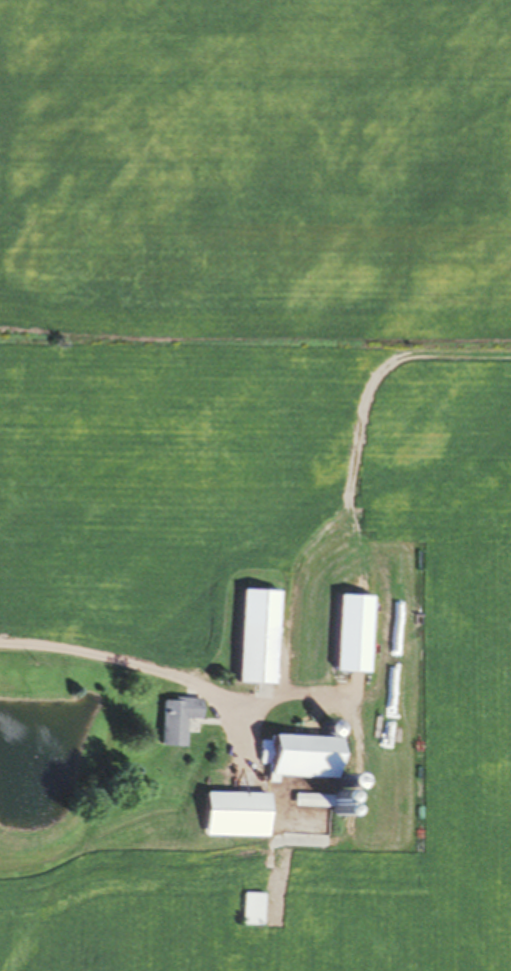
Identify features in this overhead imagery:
building: (257, 636)
road: (126, 664)
building: (176, 721)
building: (302, 757)
building: (311, 799)
building: (235, 814)
building: (250, 908)

